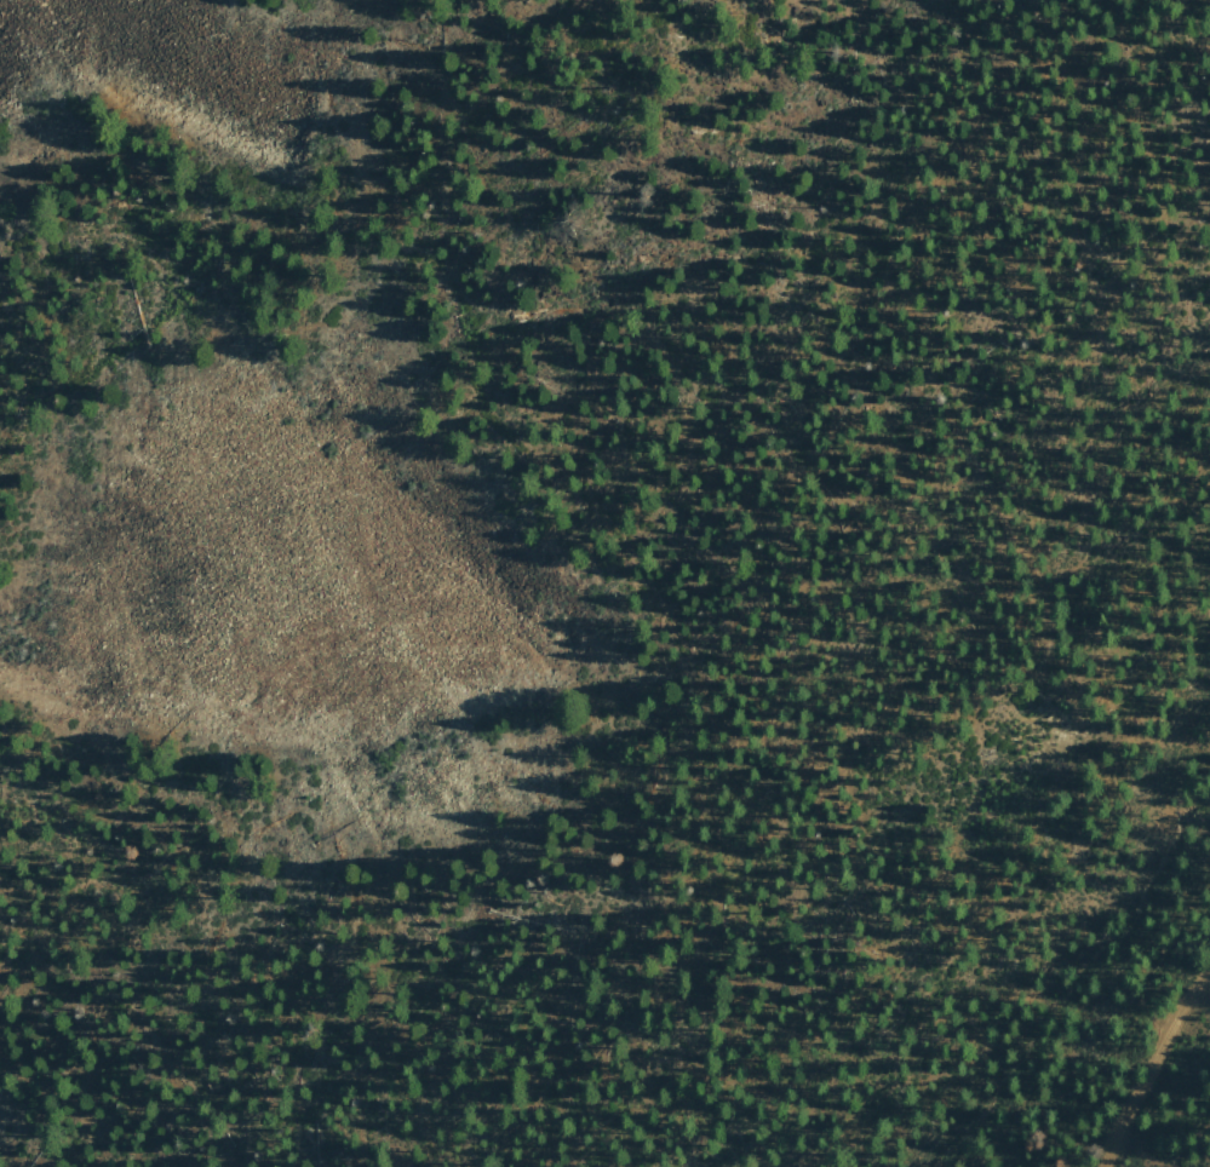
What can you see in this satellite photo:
road: (876, 702)
road: (1153, 1064)

